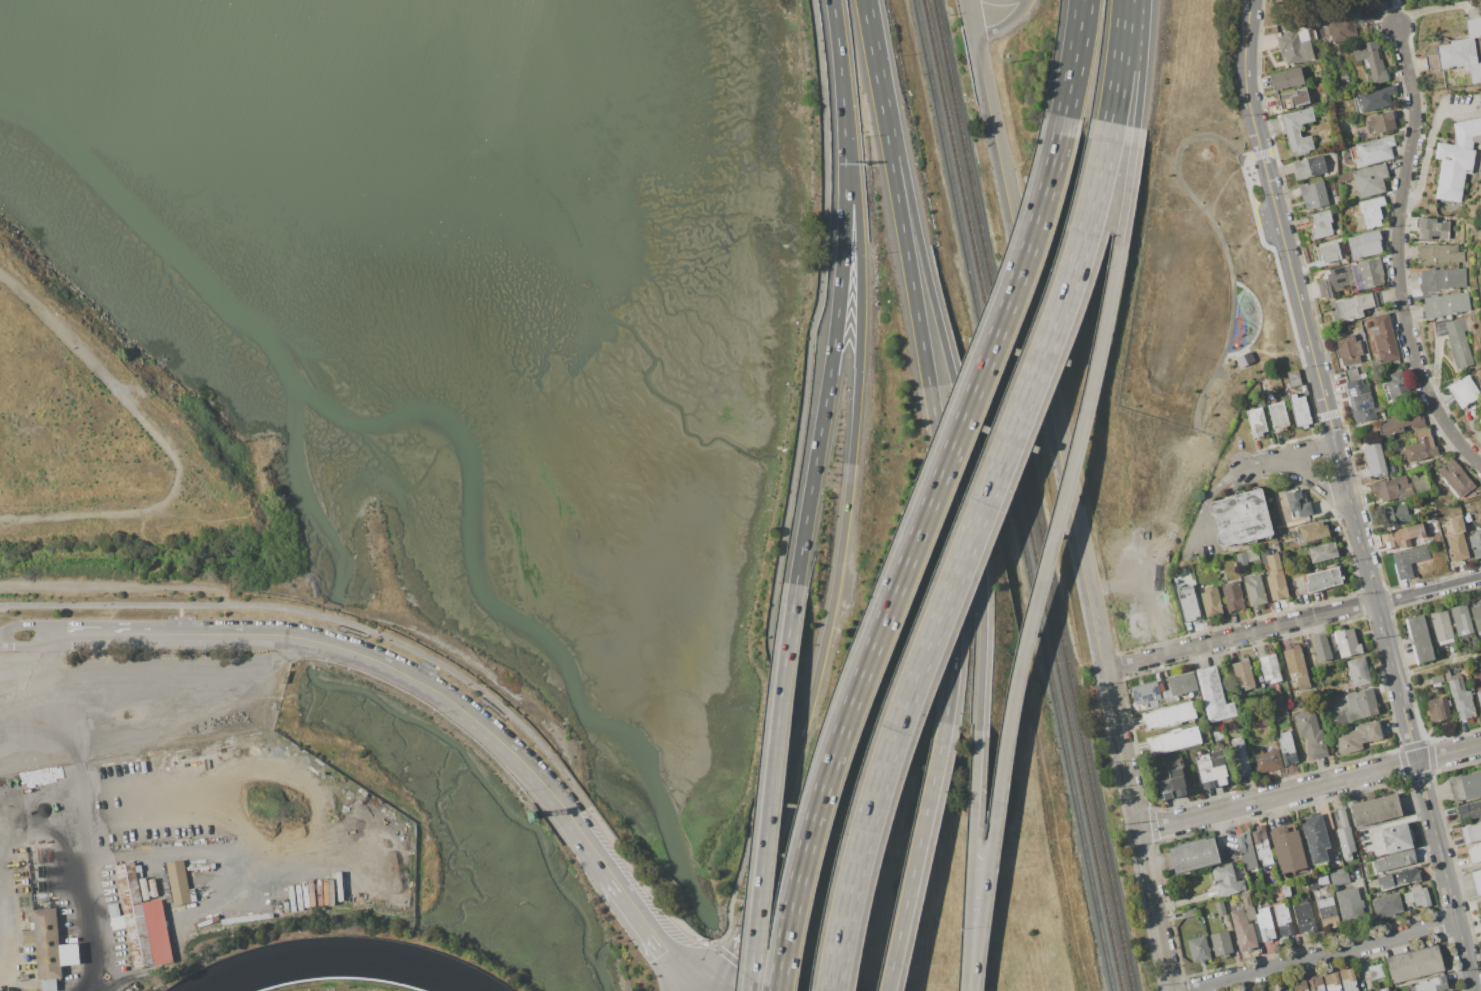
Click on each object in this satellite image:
road: (966, 1)
road: (1024, 2)
road: (1430, 10)
road: (1388, 13)
road: (1396, 13)
building: (1367, 16)
road: (970, 19)
road: (1002, 25)
building: (1340, 31)
road: (836, 35)
building: (1294, 48)
building: (1459, 53)
road: (1074, 58)
road: (1119, 61)
building: (1372, 61)
road: (1141, 63)
road: (1245, 77)
building: (1287, 78)
building: (1344, 78)
building: (1320, 87)
building: (1382, 97)
building: (1292, 99)
building: (1365, 101)
building: (1382, 123)
building: (1297, 131)
road: (1428, 147)
building: (1372, 151)
building: (1457, 160)
building: (1310, 167)
building: (1346, 177)
building: (1370, 180)
road: (1223, 186)
building: (1314, 195)
building: (1371, 211)
building: (1322, 225)
building: (1432, 228)
road: (1248, 237)
road: (1221, 240)
building: (1365, 244)
building: (1329, 252)
road: (1399, 253)
building: (1438, 254)
road: (1290, 260)
building: (1368, 273)
building: (1442, 279)
building: (1335, 281)
park: (1203, 287)
building: (1445, 305)
building: (1353, 306)
road: (1259, 322)
road: (835, 328)
road: (69, 329)
building: (1384, 338)
building: (1455, 340)
building: (1349, 350)
road: (1039, 353)
road: (1280, 353)
road: (924, 359)
building: (1244, 359)
road: (947, 361)
road: (1221, 373)
building: (1350, 374)
building: (1294, 379)
building: (1398, 389)
building: (1464, 392)
building: (1362, 401)
building: (1300, 411)
building: (1277, 413)
building: (1479, 421)
building: (1256, 422)
building: (1402, 424)
building: (1421, 447)
road: (852, 448)
road: (1308, 451)
building: (1375, 460)
park: (121, 462)
road: (1262, 463)
building: (1456, 478)
road: (1318, 479)
building: (1393, 489)
railway: (1012, 495)
railway: (1022, 495)
railway: (1032, 495)
road: (787, 503)
building: (1291, 506)
building: (1373, 514)
building: (1398, 514)
building: (1241, 518)
road: (195, 521)
building: (1314, 531)
building: (1404, 536)
building: (1458, 542)
building: (1476, 544)
road: (909, 550)
building: (1322, 552)
road: (963, 554)
building: (1252, 554)
road: (1046, 557)
building: (1242, 558)
building: (1409, 561)
road: (1367, 563)
building: (1276, 578)
building: (1323, 579)
road: (119, 585)
building: (1255, 590)
building: (1234, 595)
building: (1211, 601)
building: (1189, 607)
road: (323, 616)
building: (1477, 616)
road: (1292, 622)
road: (26, 624)
building: (1464, 625)
building: (1442, 627)
road: (219, 635)
building: (1420, 640)
building: (1346, 643)
road: (26, 647)
building: (1321, 647)
road: (336, 657)
road: (33, 665)
road: (1436, 665)
building: (1297, 667)
building: (1270, 668)
building: (1358, 672)
building: (1243, 674)
building: (1206, 676)
building: (1437, 679)
building: (1182, 684)
building: (1149, 695)
building: (1460, 695)
building: (1211, 696)
building: (1479, 697)
road: (146, 698)
building: (1171, 698)
building: (1276, 701)
building: (1360, 705)
building: (1439, 708)
building: (1285, 710)
building: (1220, 712)
building: (1171, 715)
building: (1341, 719)
road: (486, 730)
building: (1311, 734)
building: (1358, 737)
building: (1175, 740)
building: (1287, 748)
road: (1121, 750)
road: (1448, 753)
building: (1239, 754)
building: (1267, 761)
building: (1211, 766)
building: (1169, 777)
building: (1471, 785)
road: (770, 787)
road: (105, 793)
road: (1276, 795)
building: (1376, 810)
building: (1469, 810)
road: (155, 820)
building: (1471, 833)
road: (322, 836)
building: (1345, 836)
building: (1397, 837)
building: (1316, 838)
building: (1262, 848)
building: (1247, 850)
building: (1288, 850)
road: (82, 854)
building: (1474, 854)
road: (168, 855)
building: (1194, 855)
road: (915, 856)
road: (971, 859)
building: (1395, 861)
building: (1330, 866)
road: (1445, 875)
building: (1339, 877)
building: (1400, 878)
building: (1323, 879)
road: (639, 880)
building: (1227, 880)
building: (1477, 881)
building: (178, 882)
building: (1312, 883)
road: (755, 889)
building: (1277, 890)
building: (1286, 890)
building: (1417, 896)
road: (238, 898)
building: (1247, 900)
building: (1480, 903)
road: (3, 905)
building: (1387, 905)
building: (1351, 906)
road: (631, 907)
building: (1220, 908)
road: (1152, 910)
building: (1328, 912)
building: (1189, 913)
building: (1250, 914)
building: (1304, 917)
building: (1283, 920)
building: (140, 921)
building: (1265, 924)
building: (1243, 929)
building: (1221, 944)
building: (49, 945)
building: (1199, 949)
road: (1318, 955)
building: (1414, 964)
track: (342, 966)
road: (757, 970)
road: (804, 970)
building: (1375, 971)
road: (716, 974)
building: (1348, 980)
building: (1333, 982)
building: (1317, 984)
building: (1431, 984)
building: (1300, 986)
building: (1384, 989)
road: (701, 990)
road: (702, 990)
traffic signals: (702, 990)
road: (704, 990)
building: (1289, 990)

